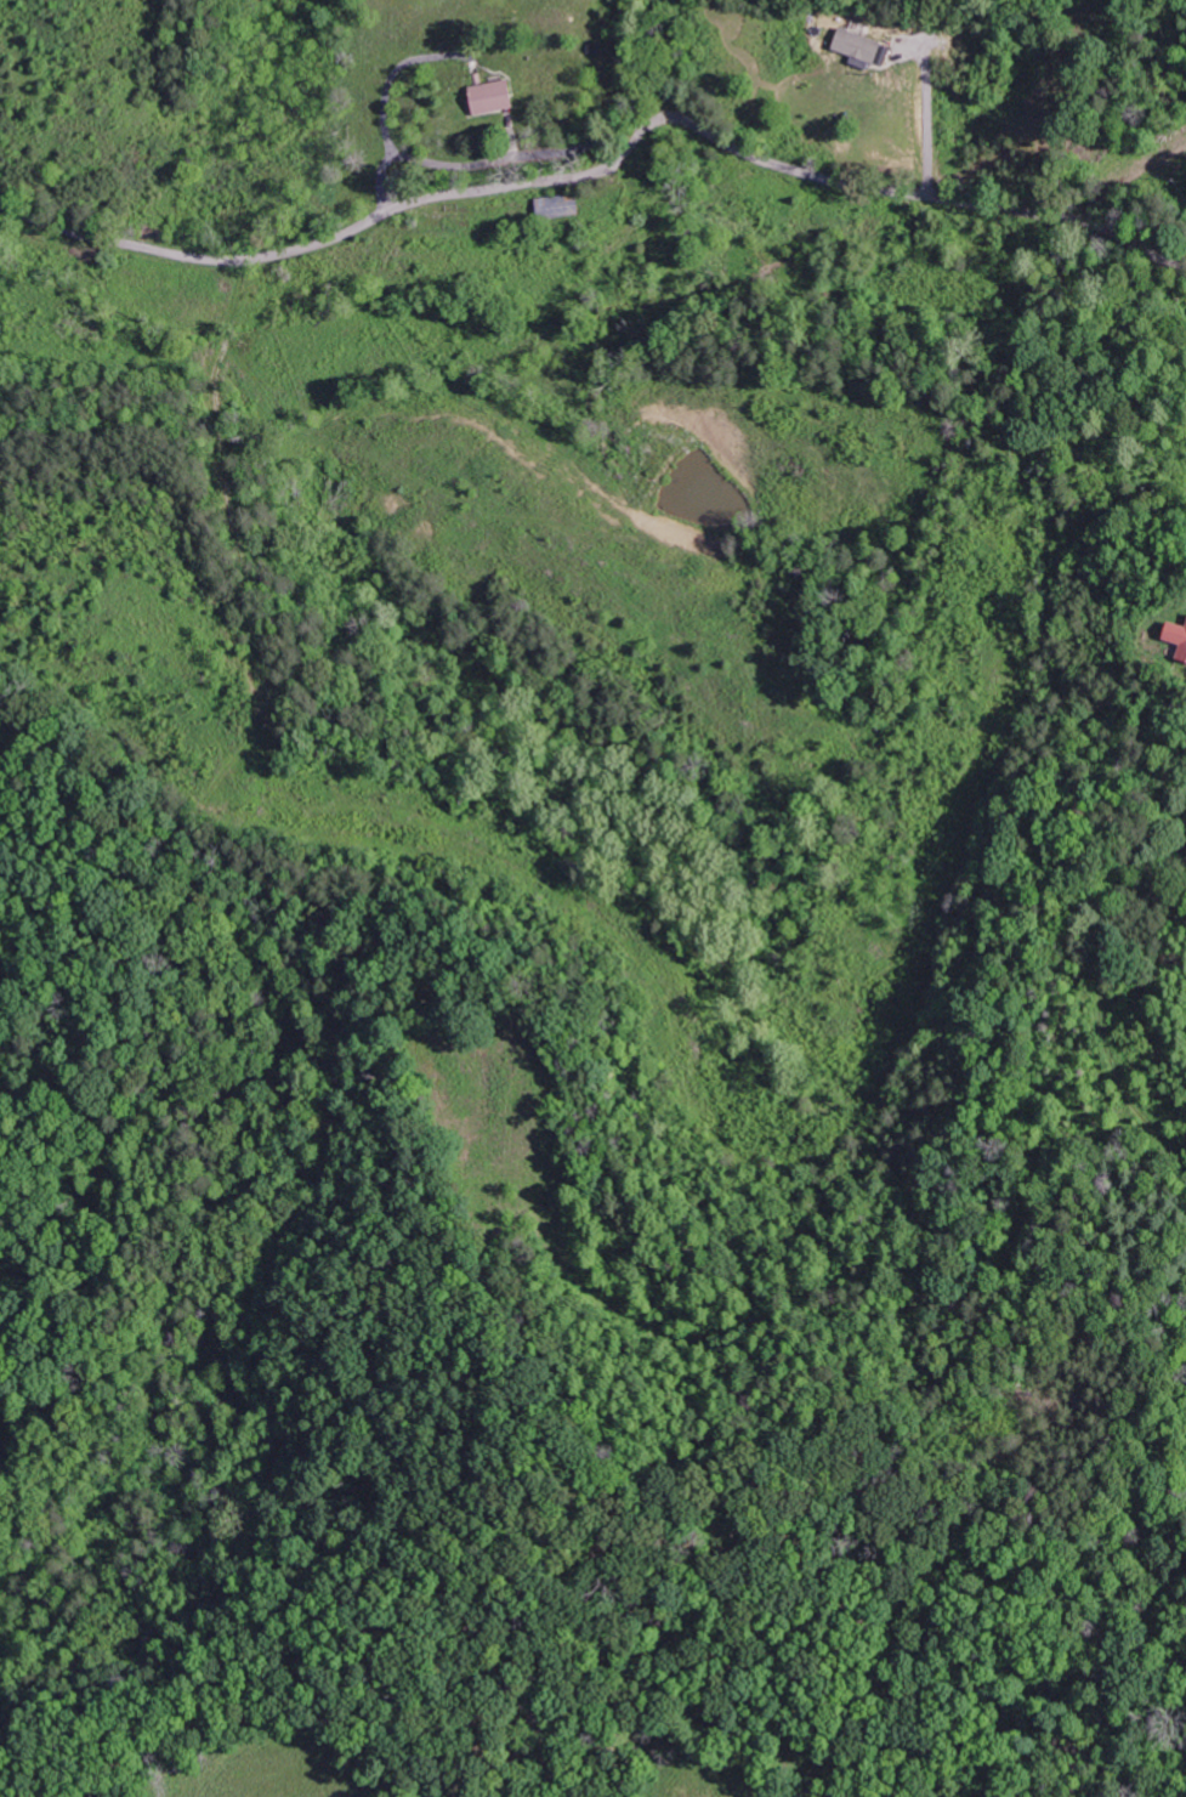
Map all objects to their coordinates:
building: (863, 45)
building: (498, 96)
road: (603, 168)
building: (1181, 634)

